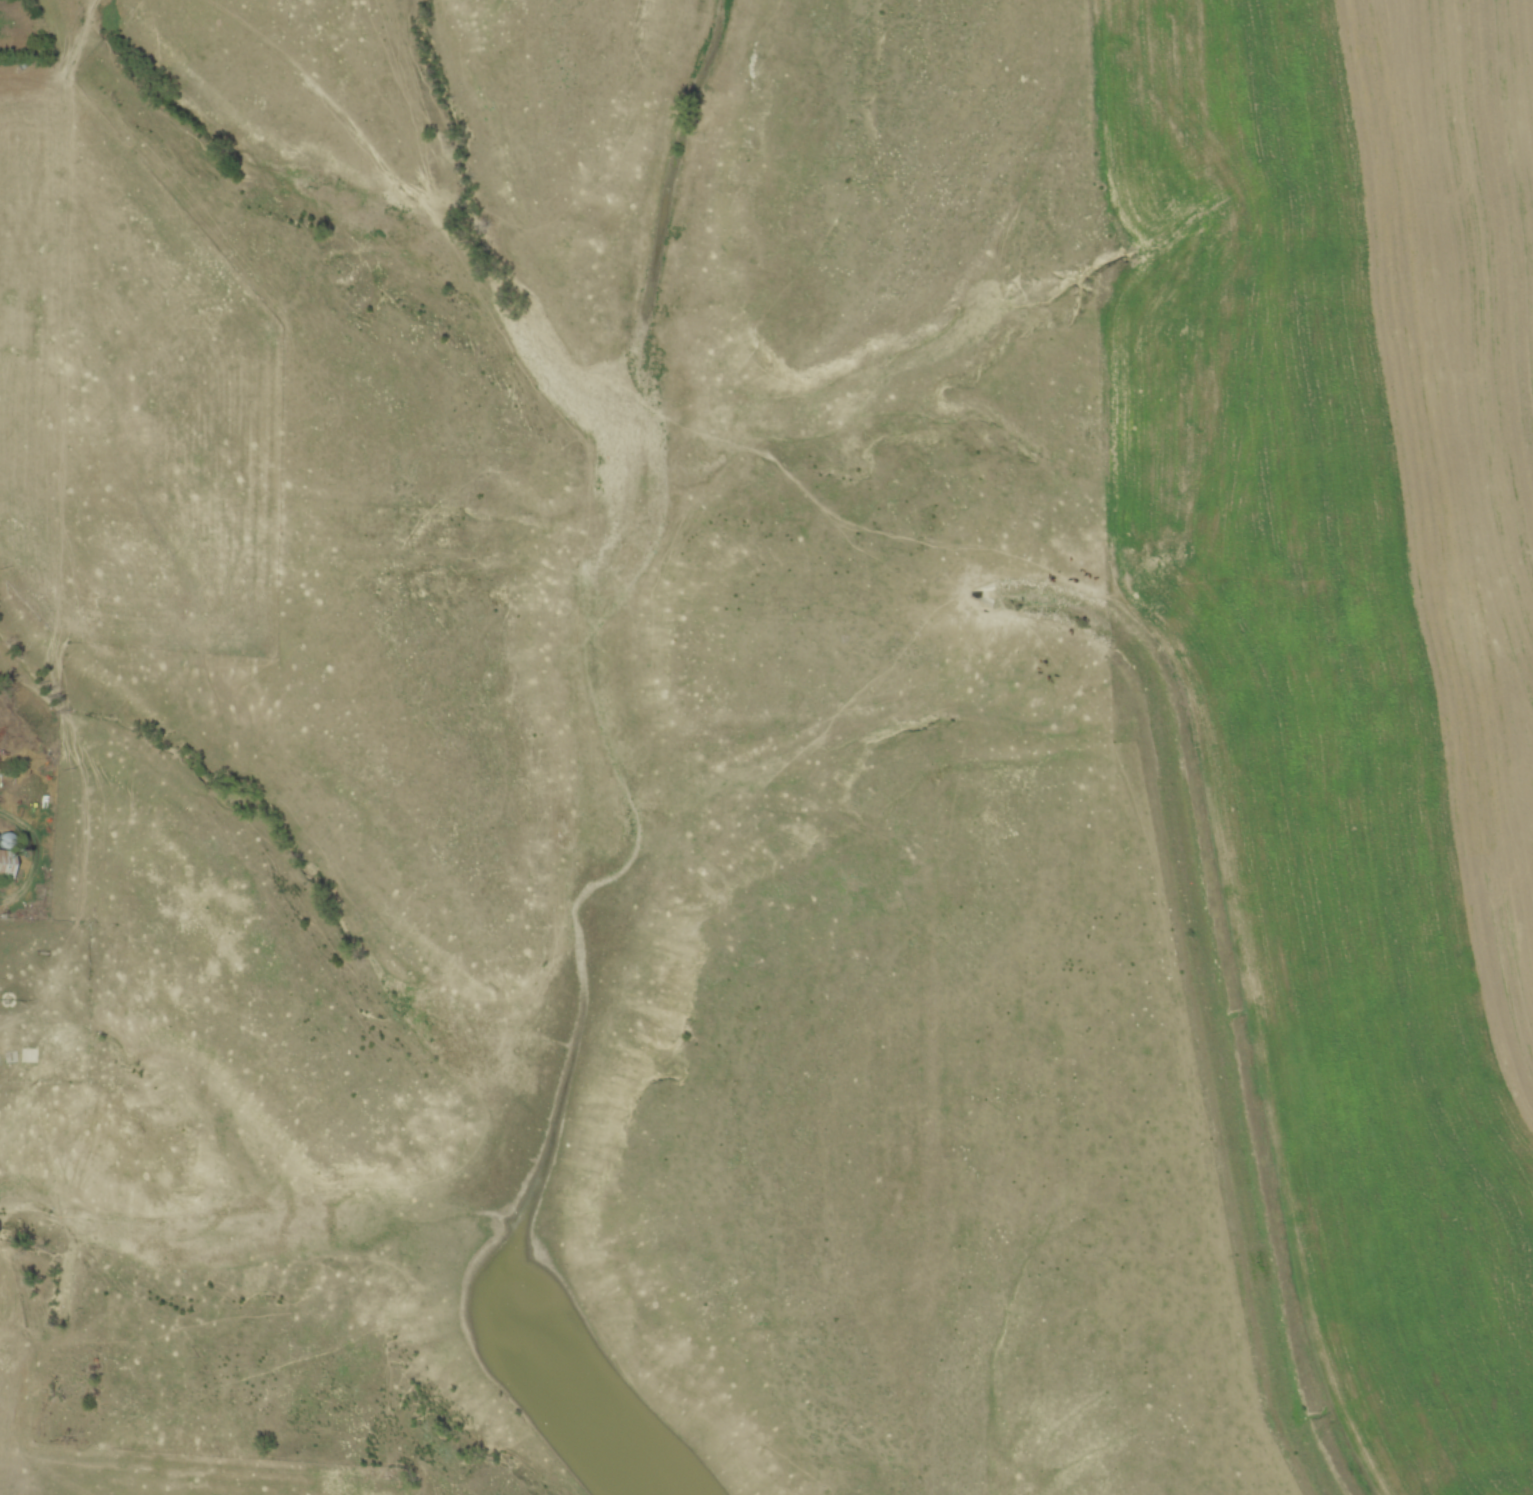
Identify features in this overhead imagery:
building: (6, 866)

